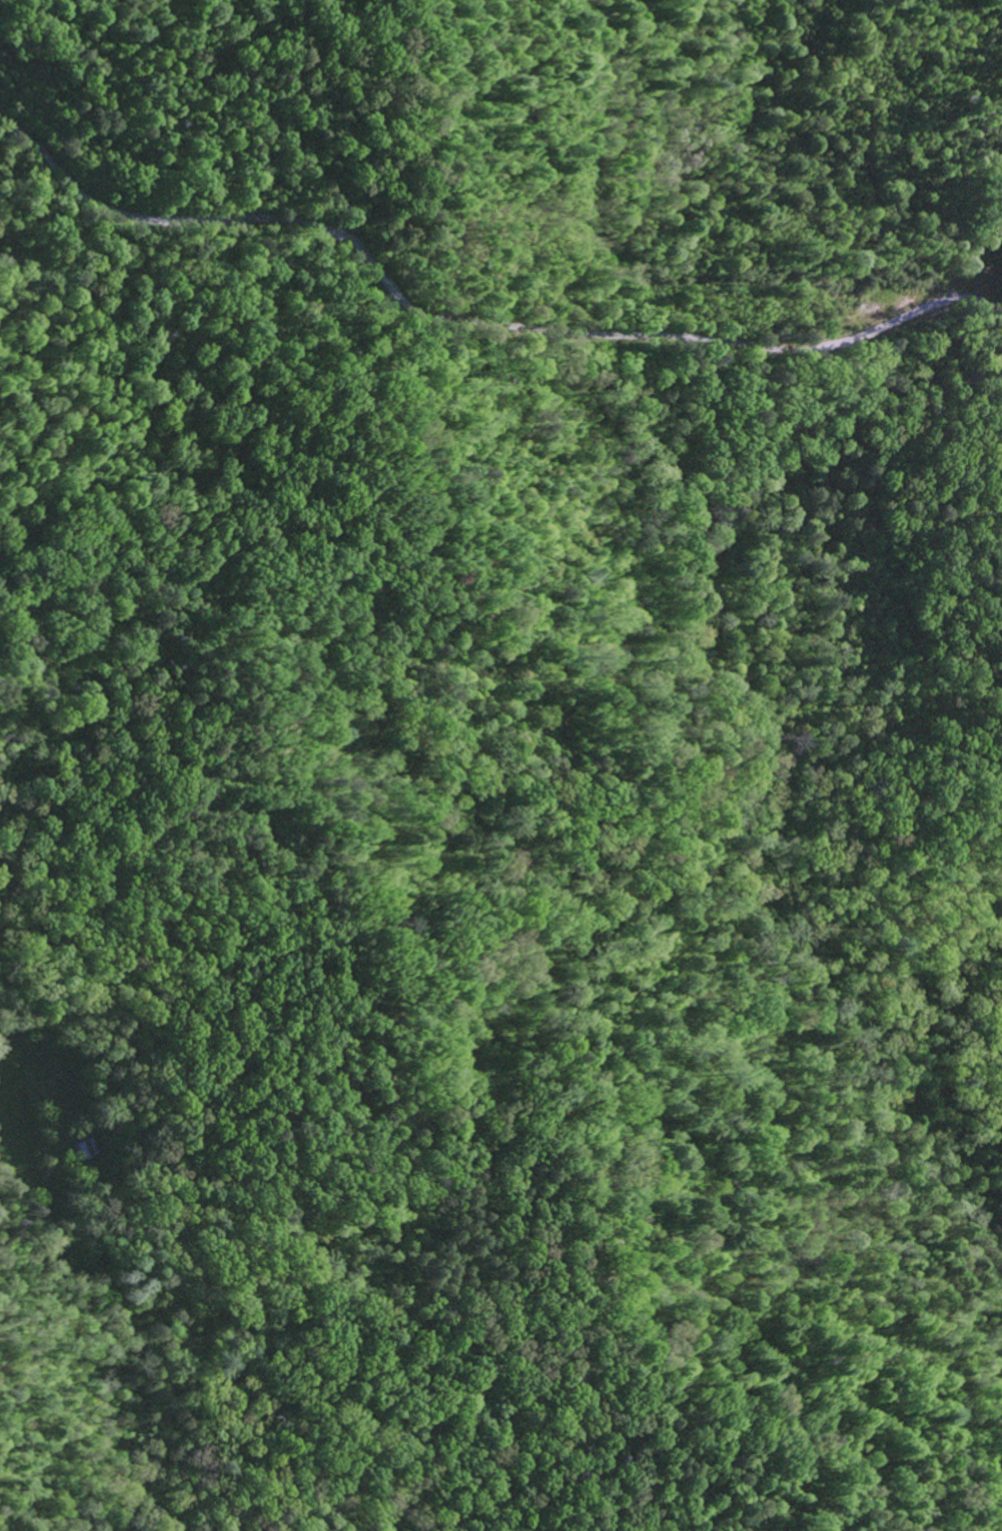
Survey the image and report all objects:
road: (198, 219)
road: (710, 341)
road: (506, 490)
road: (111, 1369)

